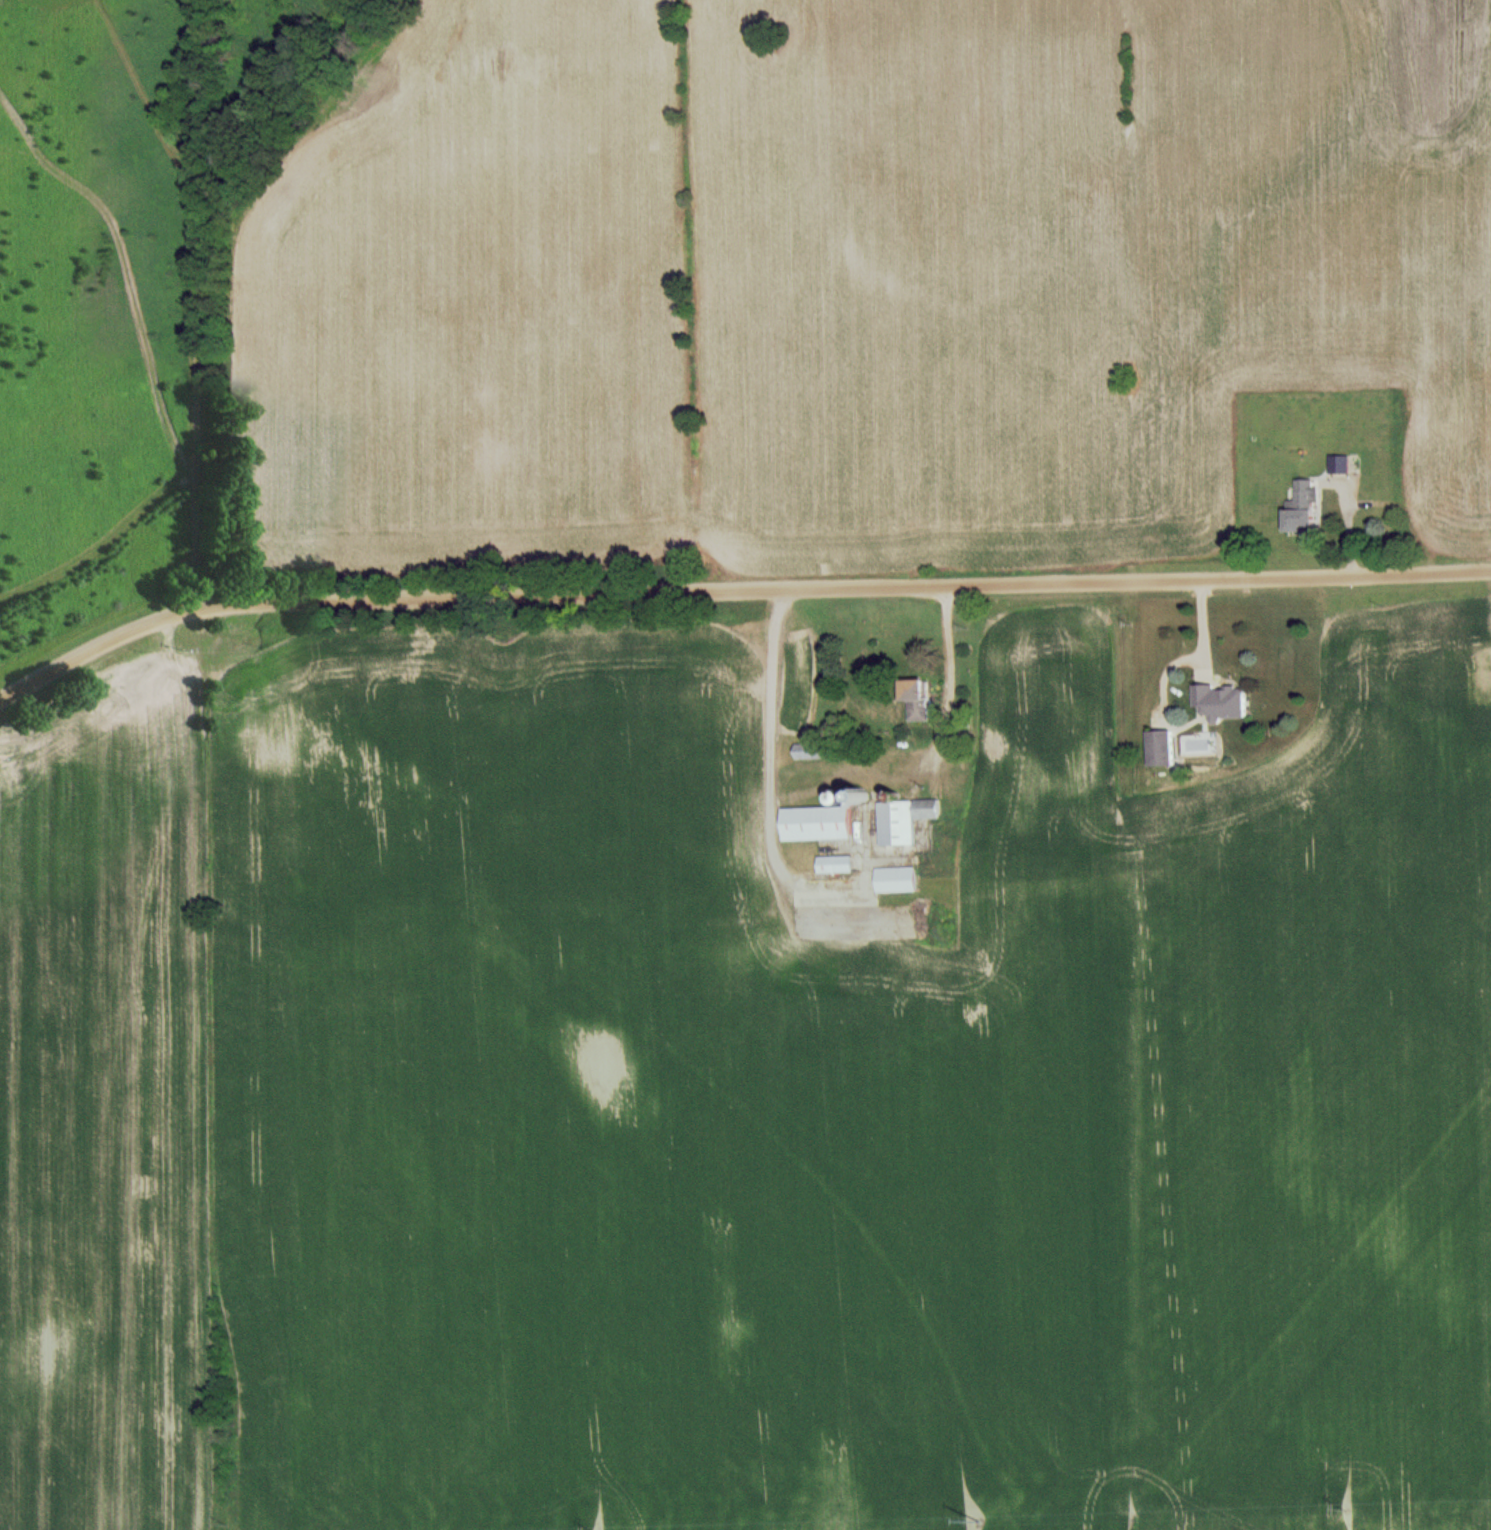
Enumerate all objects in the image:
road: (204, 302)
building: (1338, 463)
building: (1300, 507)
road: (847, 586)
road: (99, 646)
road: (946, 677)
building: (1481, 689)
building: (914, 698)
building: (1219, 703)
building: (1158, 748)
building: (808, 750)
road: (765, 774)
building: (819, 819)
building: (902, 819)
building: (833, 863)
building: (894, 878)

